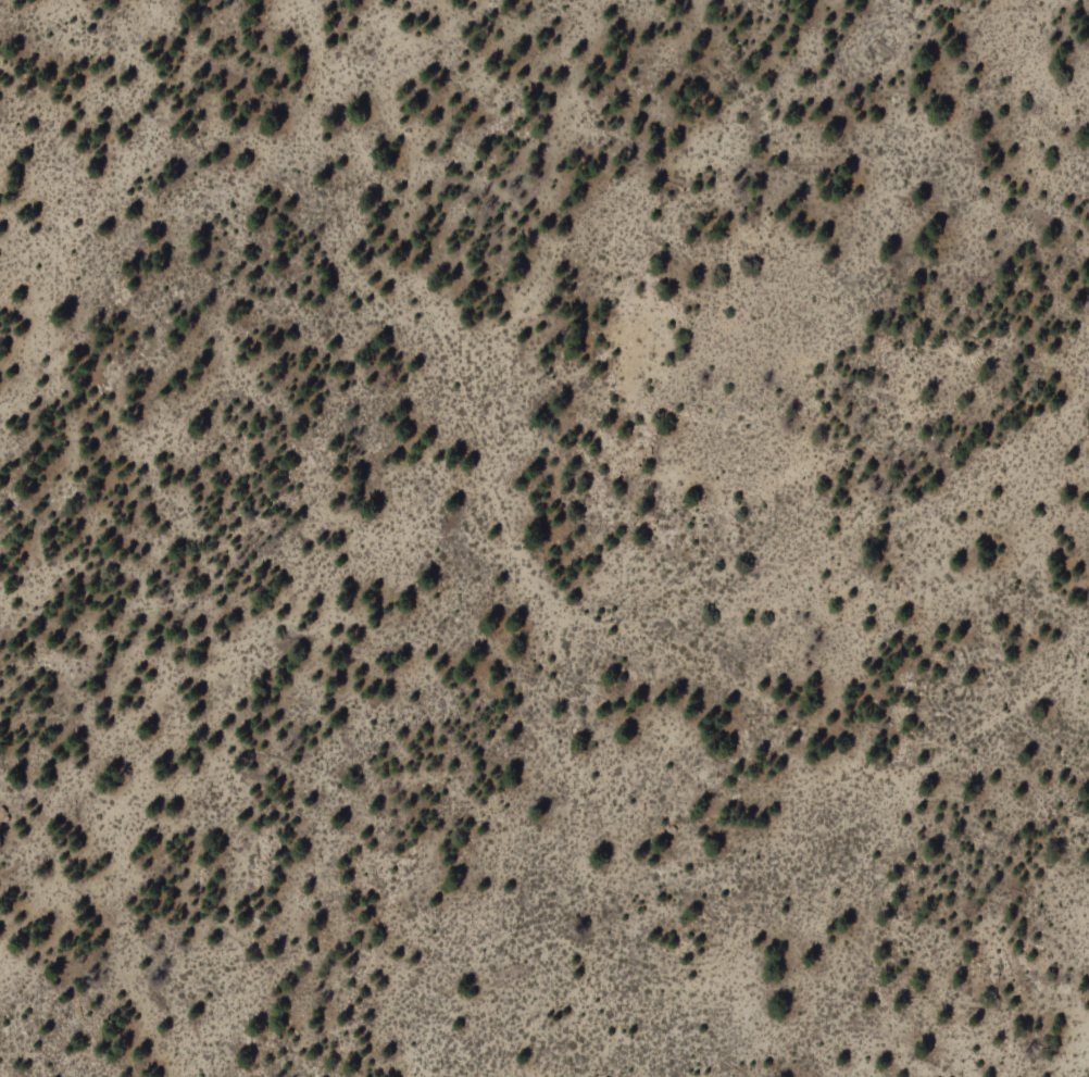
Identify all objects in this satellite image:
road: (535, 586)
road: (628, 853)

